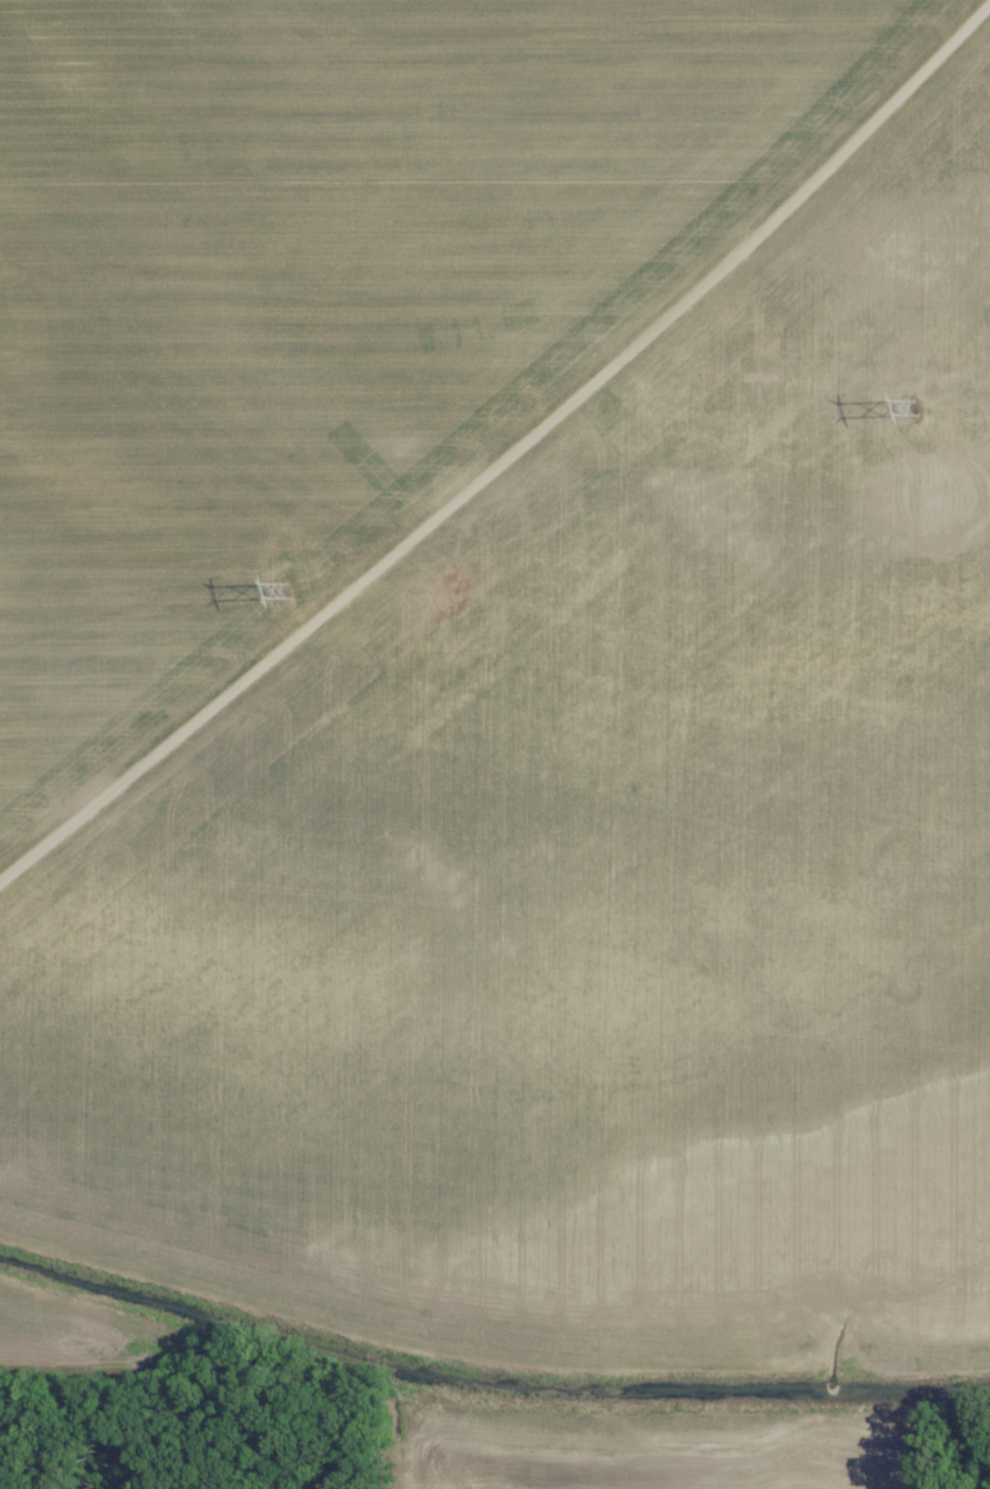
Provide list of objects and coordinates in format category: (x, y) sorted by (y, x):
power tower: (914, 414)
road: (514, 459)
power tower: (286, 597)

